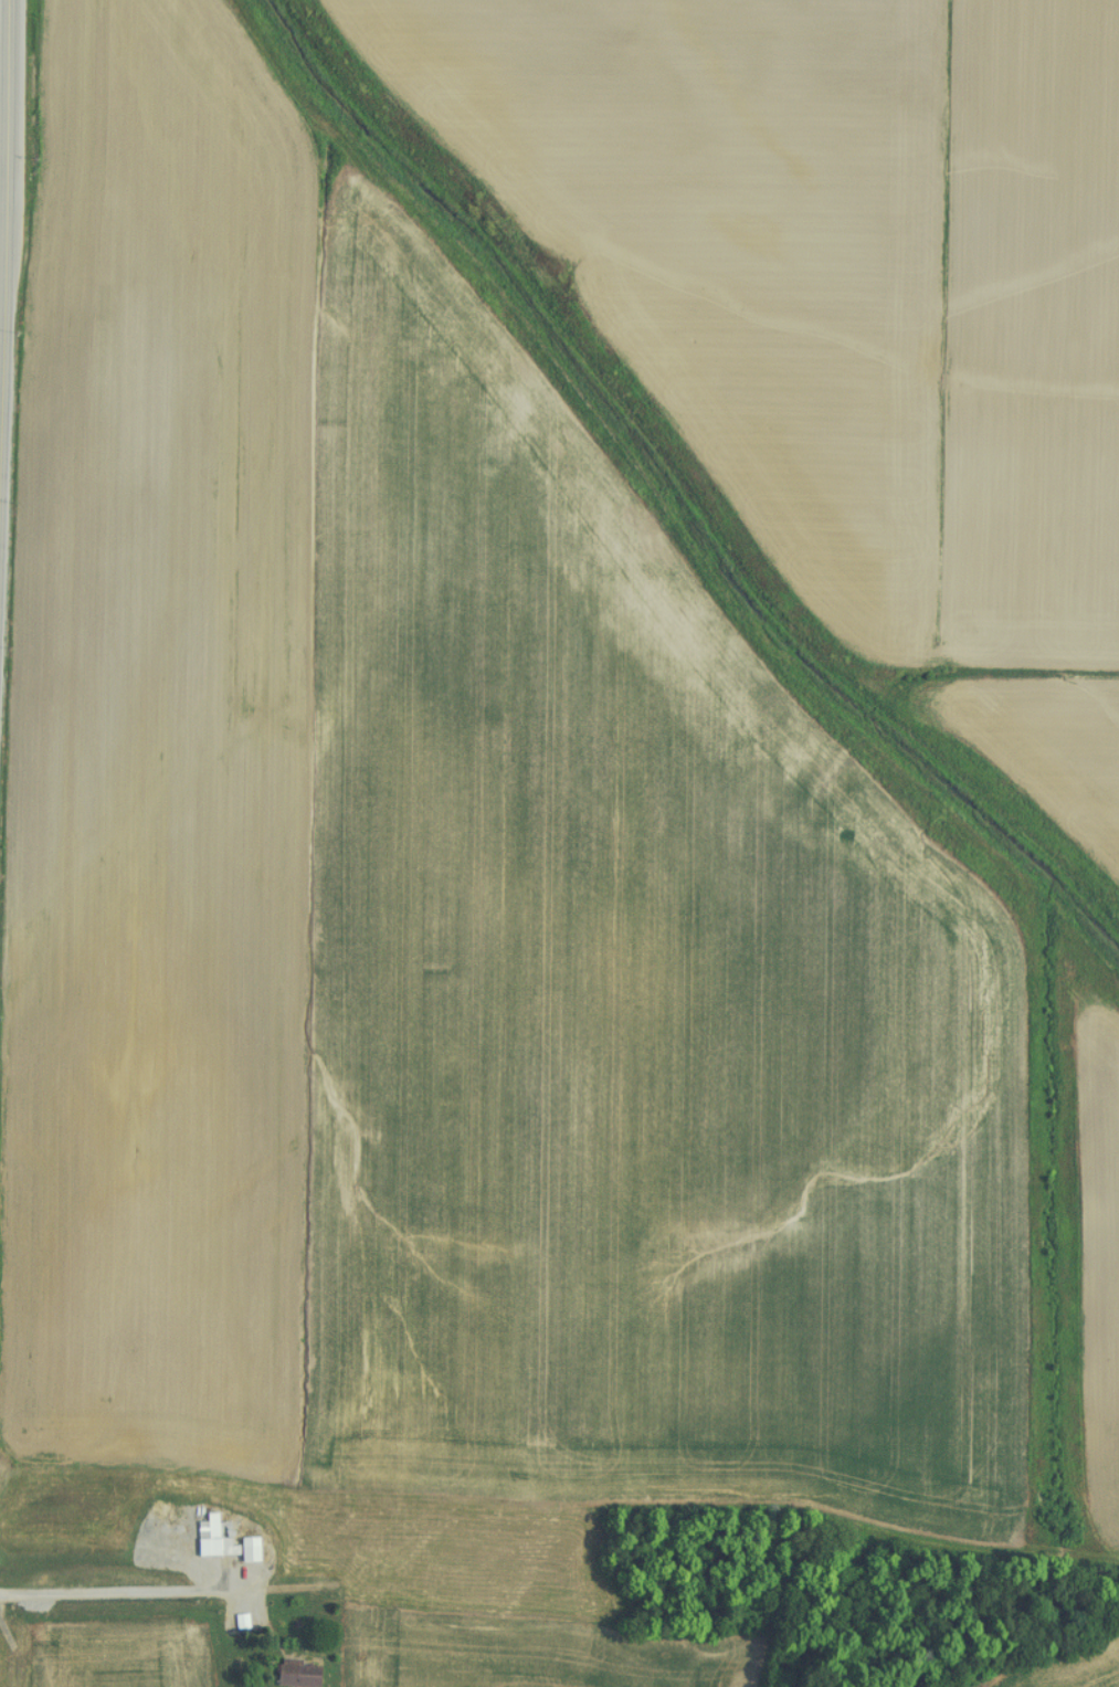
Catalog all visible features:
road: (6, 315)
building: (144, 1529)
building: (218, 1541)
road: (117, 1592)
building: (291, 1674)

